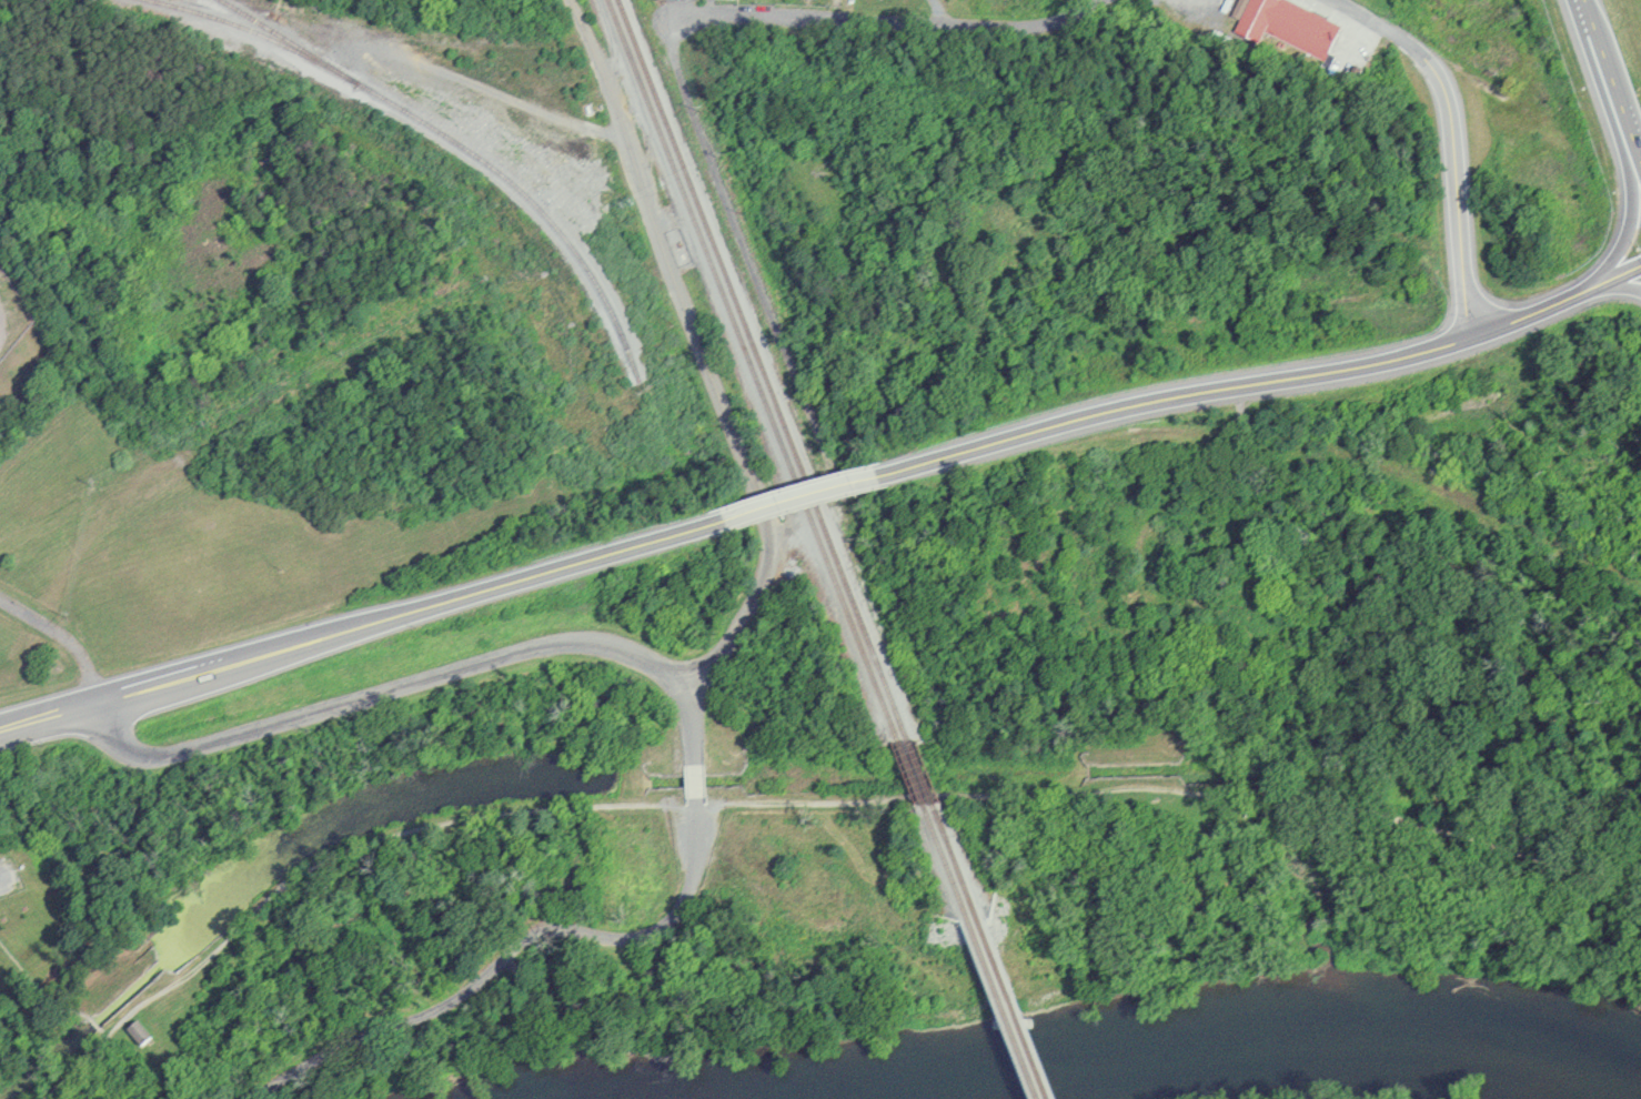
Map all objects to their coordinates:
railway: (316, 18)
road: (889, 21)
building: (1285, 26)
railway: (362, 31)
railway: (637, 60)
road: (1613, 78)
railway: (1020, 100)
railway: (258, 113)
road: (1452, 139)
road: (1635, 208)
road: (743, 246)
road: (1618, 289)
road: (703, 353)
railway: (753, 371)
railway: (765, 371)
road: (1266, 383)
road: (806, 498)
railway: (331, 507)
road: (363, 626)
road: (425, 679)
railway: (923, 773)
railway: (910, 774)
road: (695, 780)
road: (966, 797)
parking lot: (695, 833)
railway: (954, 854)
railway: (943, 856)
road: (284, 886)
road: (516, 949)
road: (161, 992)
railway: (1010, 1000)
railway: (999, 1001)
building: (139, 1035)
river: (1180, 1068)

